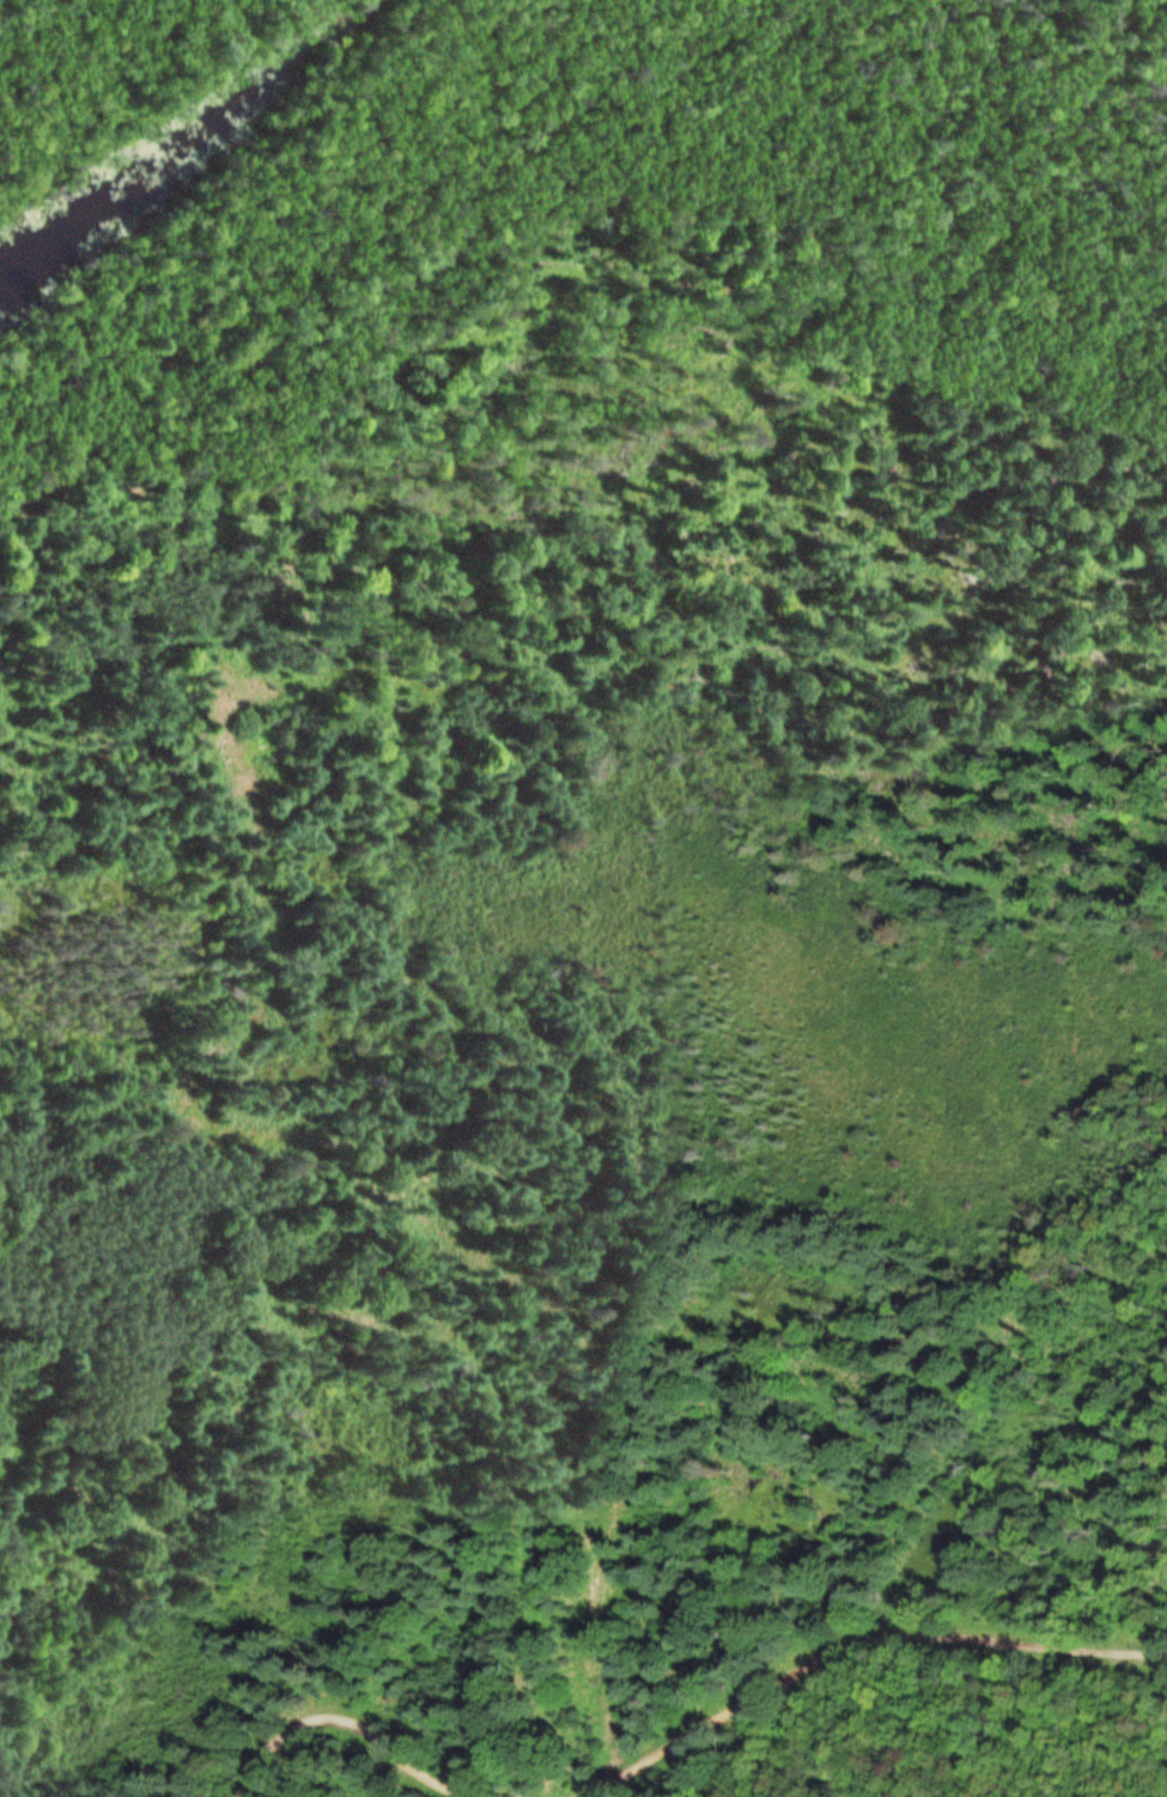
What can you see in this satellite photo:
road: (701, 498)
road: (847, 1627)
road: (339, 1744)

